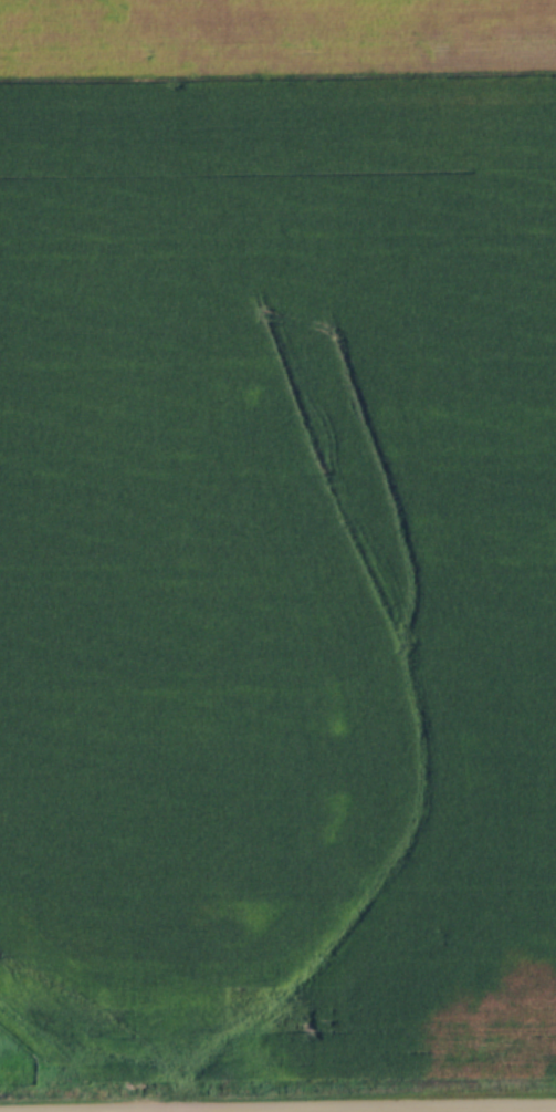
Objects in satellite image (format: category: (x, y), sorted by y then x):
road: (367, 1109)

